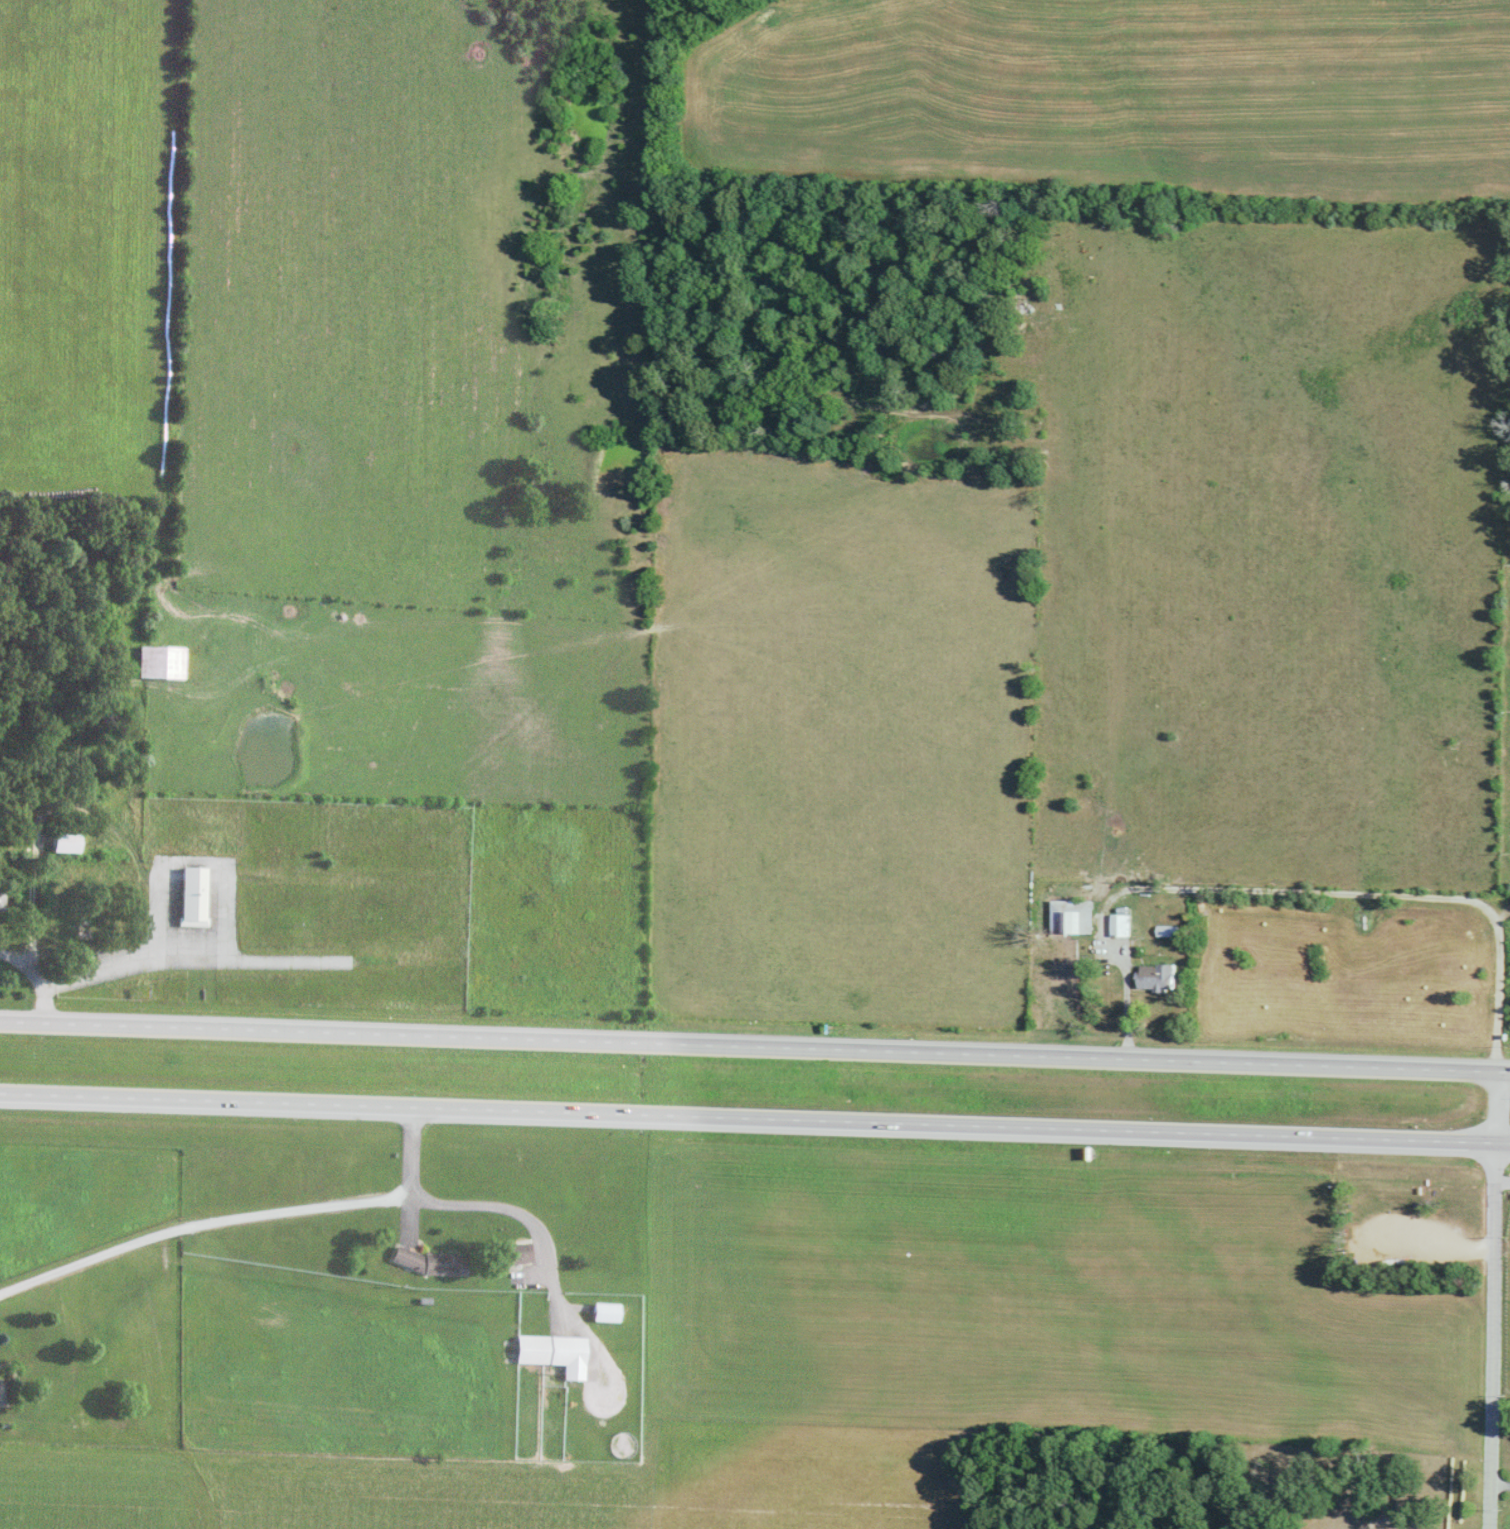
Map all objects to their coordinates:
building: (160, 662)
building: (64, 842)
road: (1295, 889)
building: (192, 896)
building: (1073, 917)
building: (1120, 924)
building: (1166, 931)
road: (24, 967)
road: (106, 968)
building: (1156, 977)
road: (40, 1007)
road: (747, 1047)
road: (1502, 1072)
road: (1498, 1106)
road: (750, 1117)
road: (1505, 1141)
road: (408, 1147)
road: (498, 1204)
road: (200, 1222)
building: (518, 1253)
building: (428, 1261)
building: (604, 1311)
road: (1497, 1334)
building: (553, 1352)
road: (1502, 1485)

